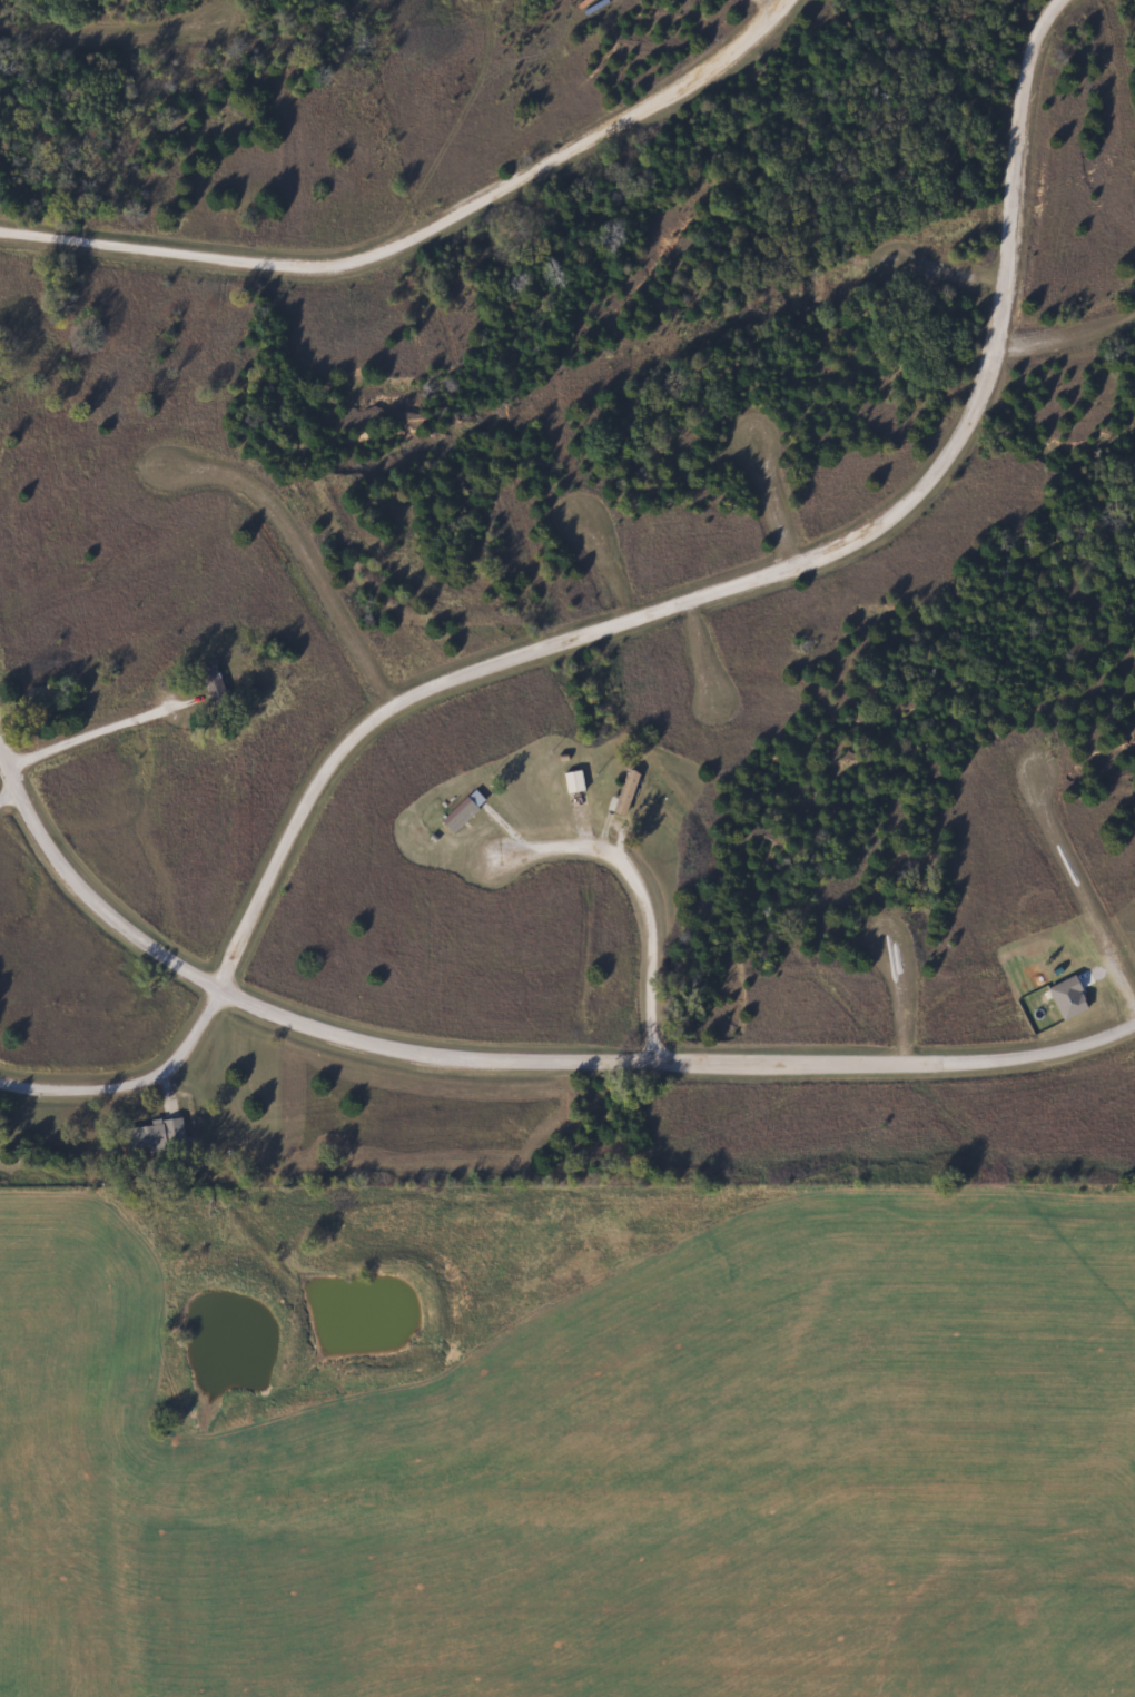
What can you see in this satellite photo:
road: (754, 11)
road: (87, 24)
road: (424, 231)
road: (946, 287)
road: (1066, 353)
road: (777, 499)
road: (303, 556)
road: (606, 566)
road: (752, 579)
road: (705, 650)
building: (209, 682)
building: (47, 692)
road: (107, 729)
building: (569, 781)
building: (620, 793)
road: (10, 798)
building: (458, 810)
road: (1083, 884)
road: (651, 947)
building: (1064, 998)
road: (898, 1002)
road: (503, 1059)
road: (134, 1083)
building: (150, 1134)

